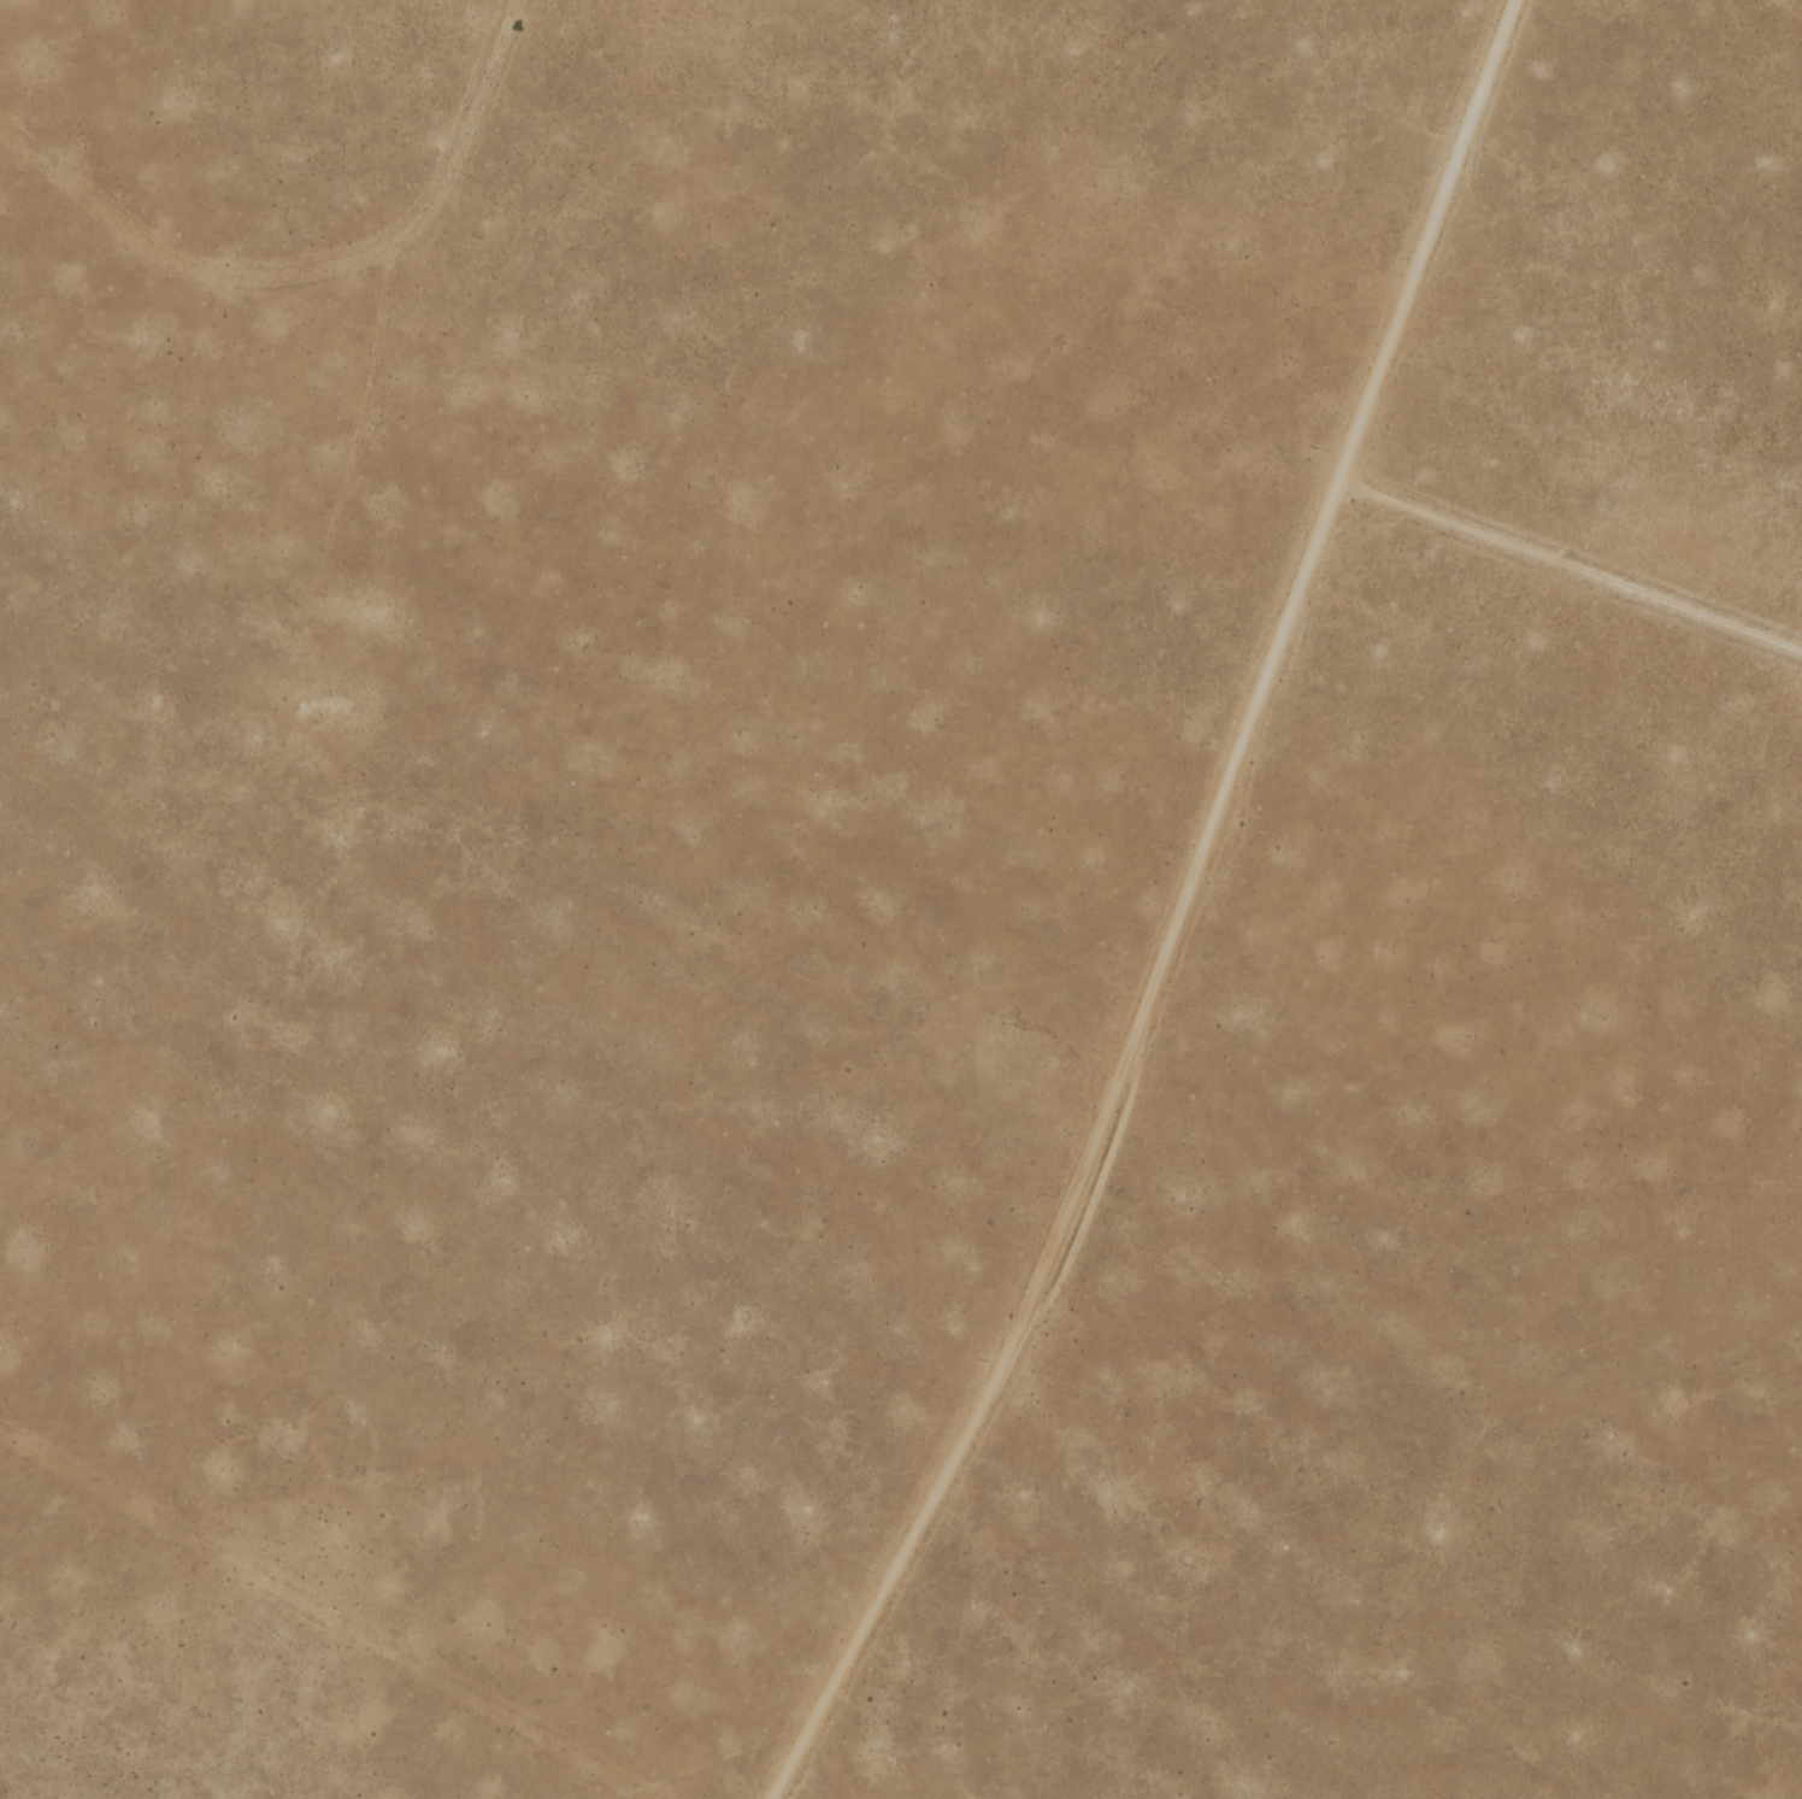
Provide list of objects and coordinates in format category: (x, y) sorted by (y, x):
road: (1567, 563)
road: (1178, 916)
road: (330, 1609)

